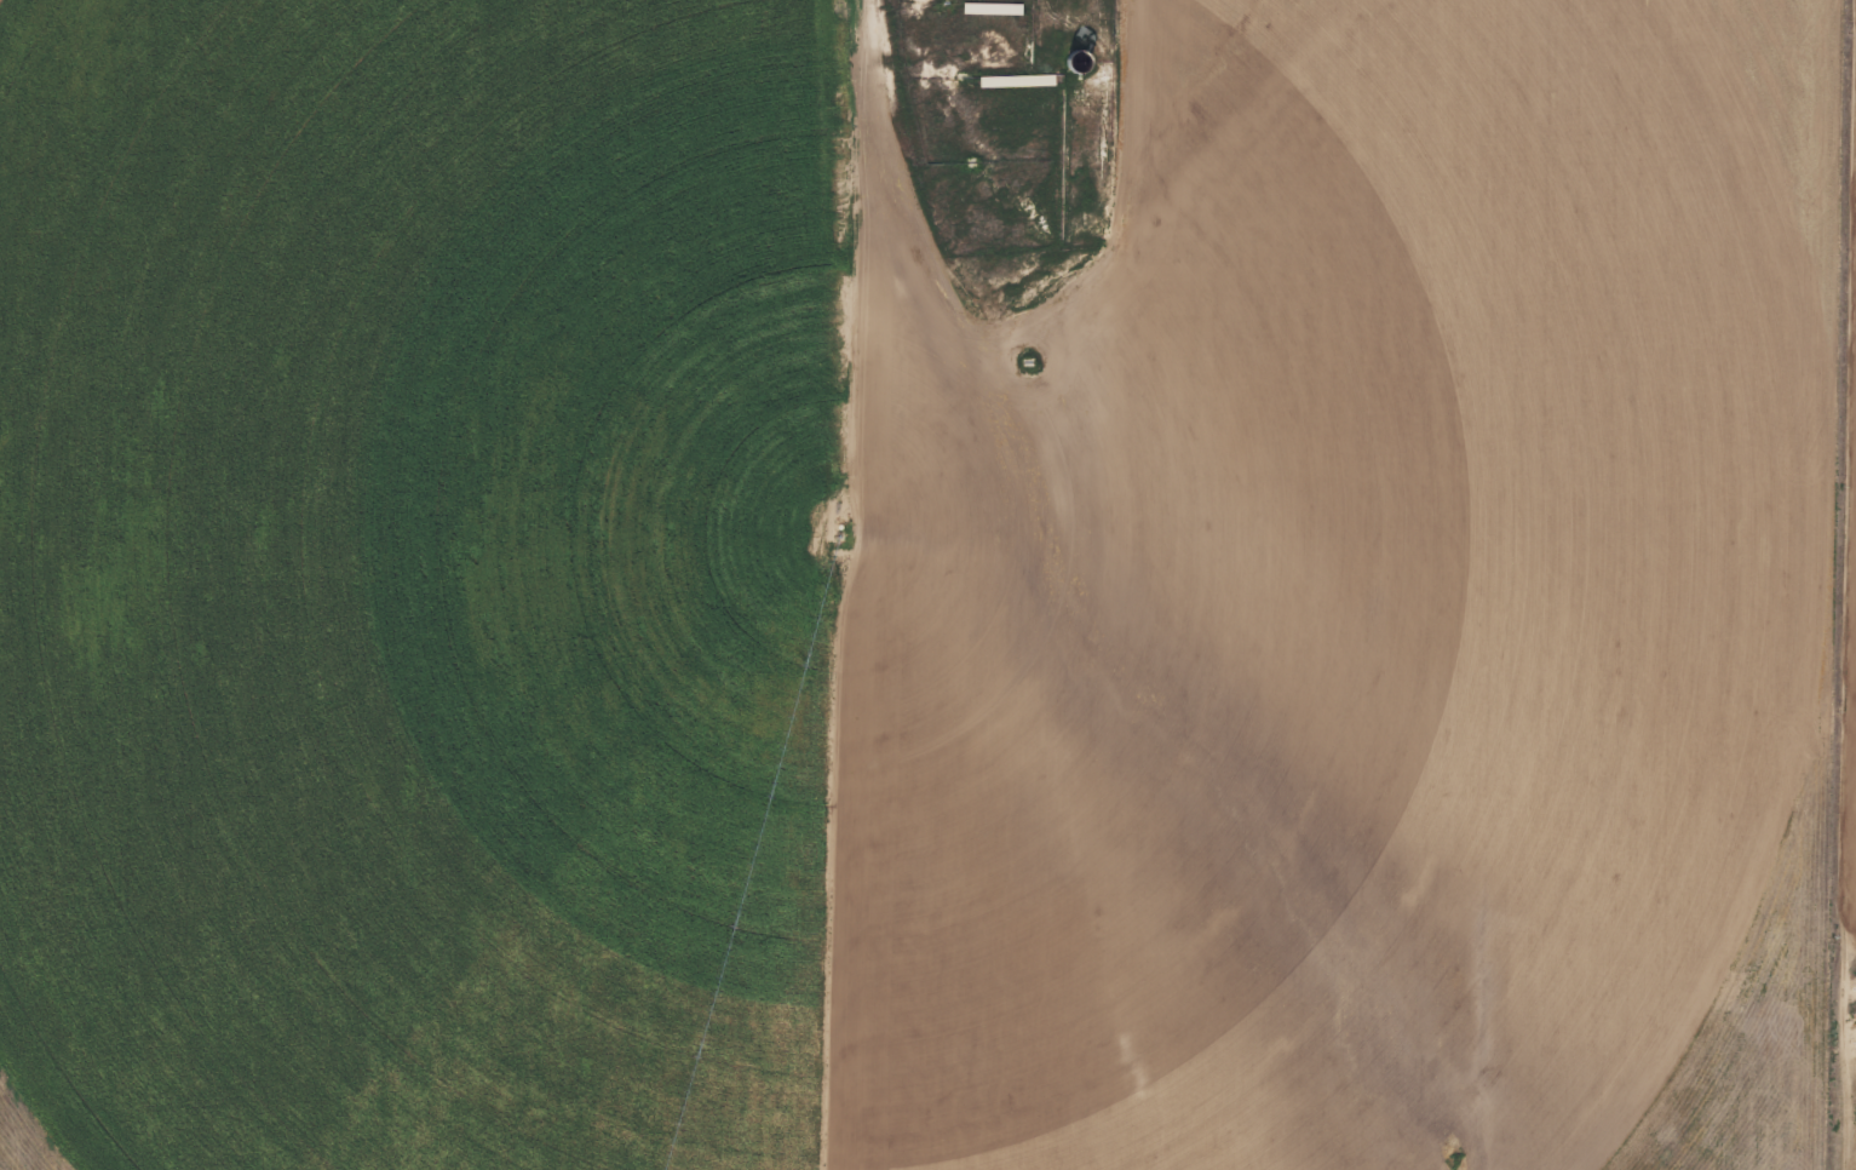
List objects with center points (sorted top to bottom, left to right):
crop: (907, 584)

